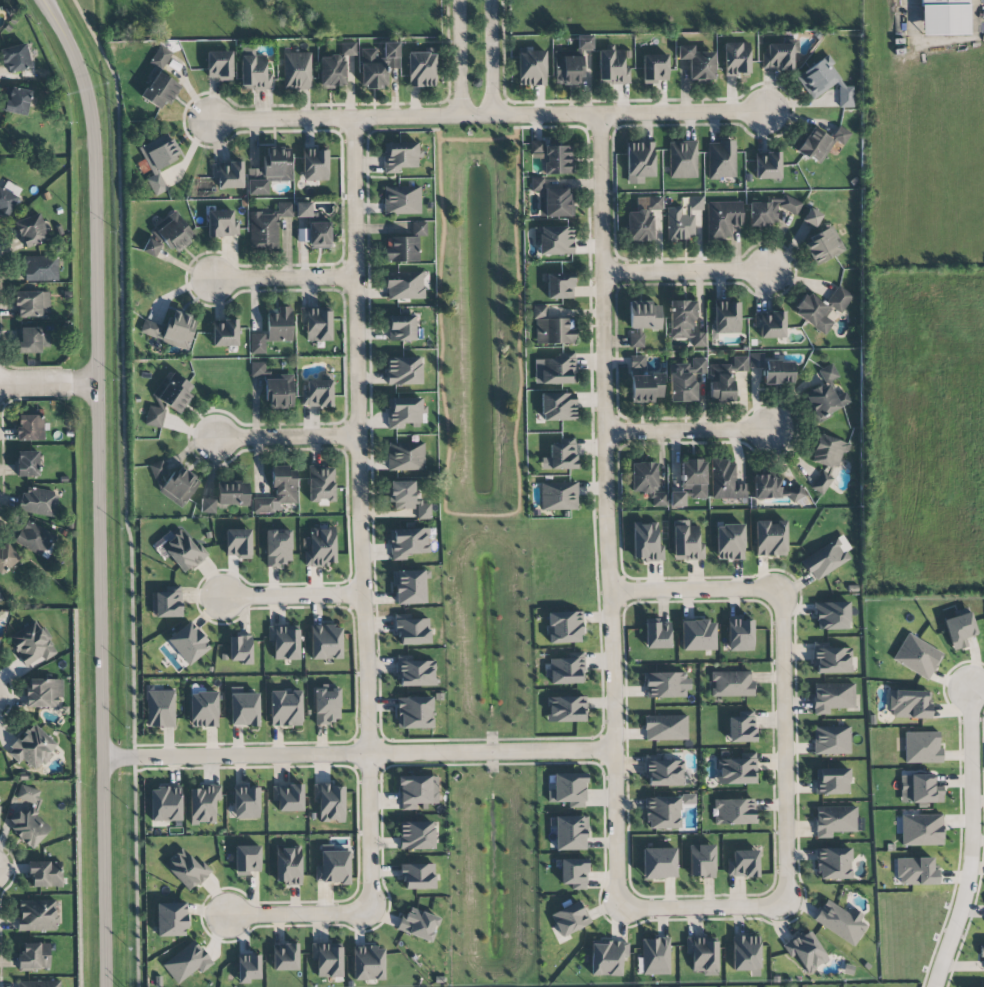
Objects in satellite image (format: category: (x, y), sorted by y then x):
road: (911, 16)
building: (944, 17)
building: (348, 49)
building: (778, 56)
building: (159, 57)
building: (15, 58)
road: (460, 58)
road: (493, 58)
building: (736, 59)
building: (697, 62)
building: (570, 63)
building: (219, 65)
building: (377, 65)
building: (612, 66)
building: (531, 67)
building: (654, 68)
building: (253, 69)
building: (421, 69)
building: (297, 71)
building: (332, 71)
building: (817, 78)
building: (159, 90)
building: (845, 96)
building: (16, 101)
road: (487, 117)
road: (560, 127)
road: (395, 129)
road: (477, 140)
building: (820, 142)
building: (400, 156)
building: (553, 157)
building: (682, 159)
building: (158, 160)
building: (721, 160)
building: (639, 162)
building: (277, 165)
building: (314, 165)
building: (767, 165)
building: (228, 174)
building: (255, 182)
building: (537, 184)
building: (11, 188)
building: (401, 200)
building: (6, 203)
building: (555, 203)
building: (695, 203)
fountain: (480, 206)
building: (303, 209)
building: (770, 210)
building: (812, 217)
building: (642, 219)
building: (722, 219)
building: (679, 223)
building: (221, 224)
building: (267, 227)
building: (31, 230)
building: (315, 235)
building: (167, 236)
building: (553, 240)
building: (405, 245)
building: (823, 246)
building: (40, 268)
road: (684, 272)
road: (285, 279)
building: (404, 285)
building: (559, 286)
building: (32, 304)
building: (821, 308)
building: (643, 315)
building: (726, 318)
building: (316, 323)
building: (684, 323)
building: (770, 324)
building: (279, 325)
building: (401, 328)
building: (552, 328)
building: (151, 329)
building: (179, 329)
building: (225, 332)
building: (636, 339)
building: (32, 340)
building: (257, 343)
building: (636, 364)
building: (739, 364)
building: (257, 368)
building: (557, 370)
building: (772, 370)
building: (403, 371)
building: (828, 373)
building: (684, 380)
building: (720, 383)
road: (49, 384)
building: (644, 388)
building: (172, 392)
building: (279, 392)
building: (317, 394)
building: (824, 401)
building: (557, 406)
building: (405, 412)
building: (154, 417)
building: (30, 427)
road: (689, 431)
road: (286, 437)
building: (828, 451)
building: (405, 456)
building: (560, 456)
building: (27, 463)
building: (157, 469)
building: (694, 477)
building: (725, 481)
building: (646, 482)
building: (821, 482)
building: (320, 484)
building: (178, 486)
building: (767, 487)
road: (99, 488)
building: (277, 491)
building: (794, 492)
building: (232, 493)
building: (558, 496)
building: (407, 499)
building: (676, 499)
building: (38, 502)
building: (207, 506)
road: (608, 510)
road: (361, 516)
road: (481, 535)
building: (34, 538)
building: (770, 538)
building: (646, 542)
building: (687, 542)
building: (729, 542)
building: (238, 543)
building: (407, 543)
building: (320, 546)
building: (278, 547)
building: (183, 551)
building: (6, 557)
building: (826, 558)
building: (409, 587)
road: (695, 594)
road: (292, 597)
building: (168, 602)
building: (832, 615)
building: (564, 627)
building: (411, 629)
building: (959, 630)
building: (657, 634)
building: (697, 635)
building: (740, 635)
building: (284, 641)
building: (325, 642)
building: (188, 643)
building: (31, 644)
building: (239, 649)
building: (917, 656)
building: (832, 660)
building: (567, 669)
building: (414, 672)
building: (731, 684)
building: (666, 685)
road: (978, 690)
building: (43, 692)
road: (12, 695)
building: (832, 697)
building: (909, 704)
building: (326, 705)
building: (160, 708)
building: (285, 708)
building: (203, 709)
building: (244, 709)
building: (566, 709)
building: (414, 712)
building: (665, 727)
building: (741, 727)
building: (831, 740)
building: (32, 747)
building: (922, 747)
road: (782, 748)
road: (358, 754)
building: (736, 770)
building: (664, 771)
building: (831, 781)
building: (568, 789)
building: (919, 789)
building: (417, 792)
building: (287, 797)
road: (78, 798)
building: (329, 802)
building: (246, 803)
building: (165, 804)
building: (203, 804)
building: (665, 811)
building: (734, 811)
building: (27, 817)
building: (835, 820)
building: (921, 830)
building: (569, 833)
building: (416, 835)
road: (971, 841)
building: (247, 859)
building: (701, 861)
building: (659, 863)
building: (833, 863)
building: (743, 864)
building: (288, 865)
building: (333, 868)
building: (185, 869)
building: (916, 871)
road: (14, 872)
building: (574, 873)
building: (45, 874)
building: (417, 876)
road: (701, 905)
road: (297, 914)
building: (37, 915)
building: (170, 919)
building: (569, 919)
building: (840, 921)
building: (418, 924)
building: (805, 951)
building: (981, 951)
building: (703, 954)
building: (746, 954)
building: (34, 956)
building: (655, 956)
building: (285, 957)
building: (608, 957)
building: (327, 959)
building: (186, 962)
building: (368, 963)
road: (0, 968)
building: (247, 968)
building: (39, 983)

